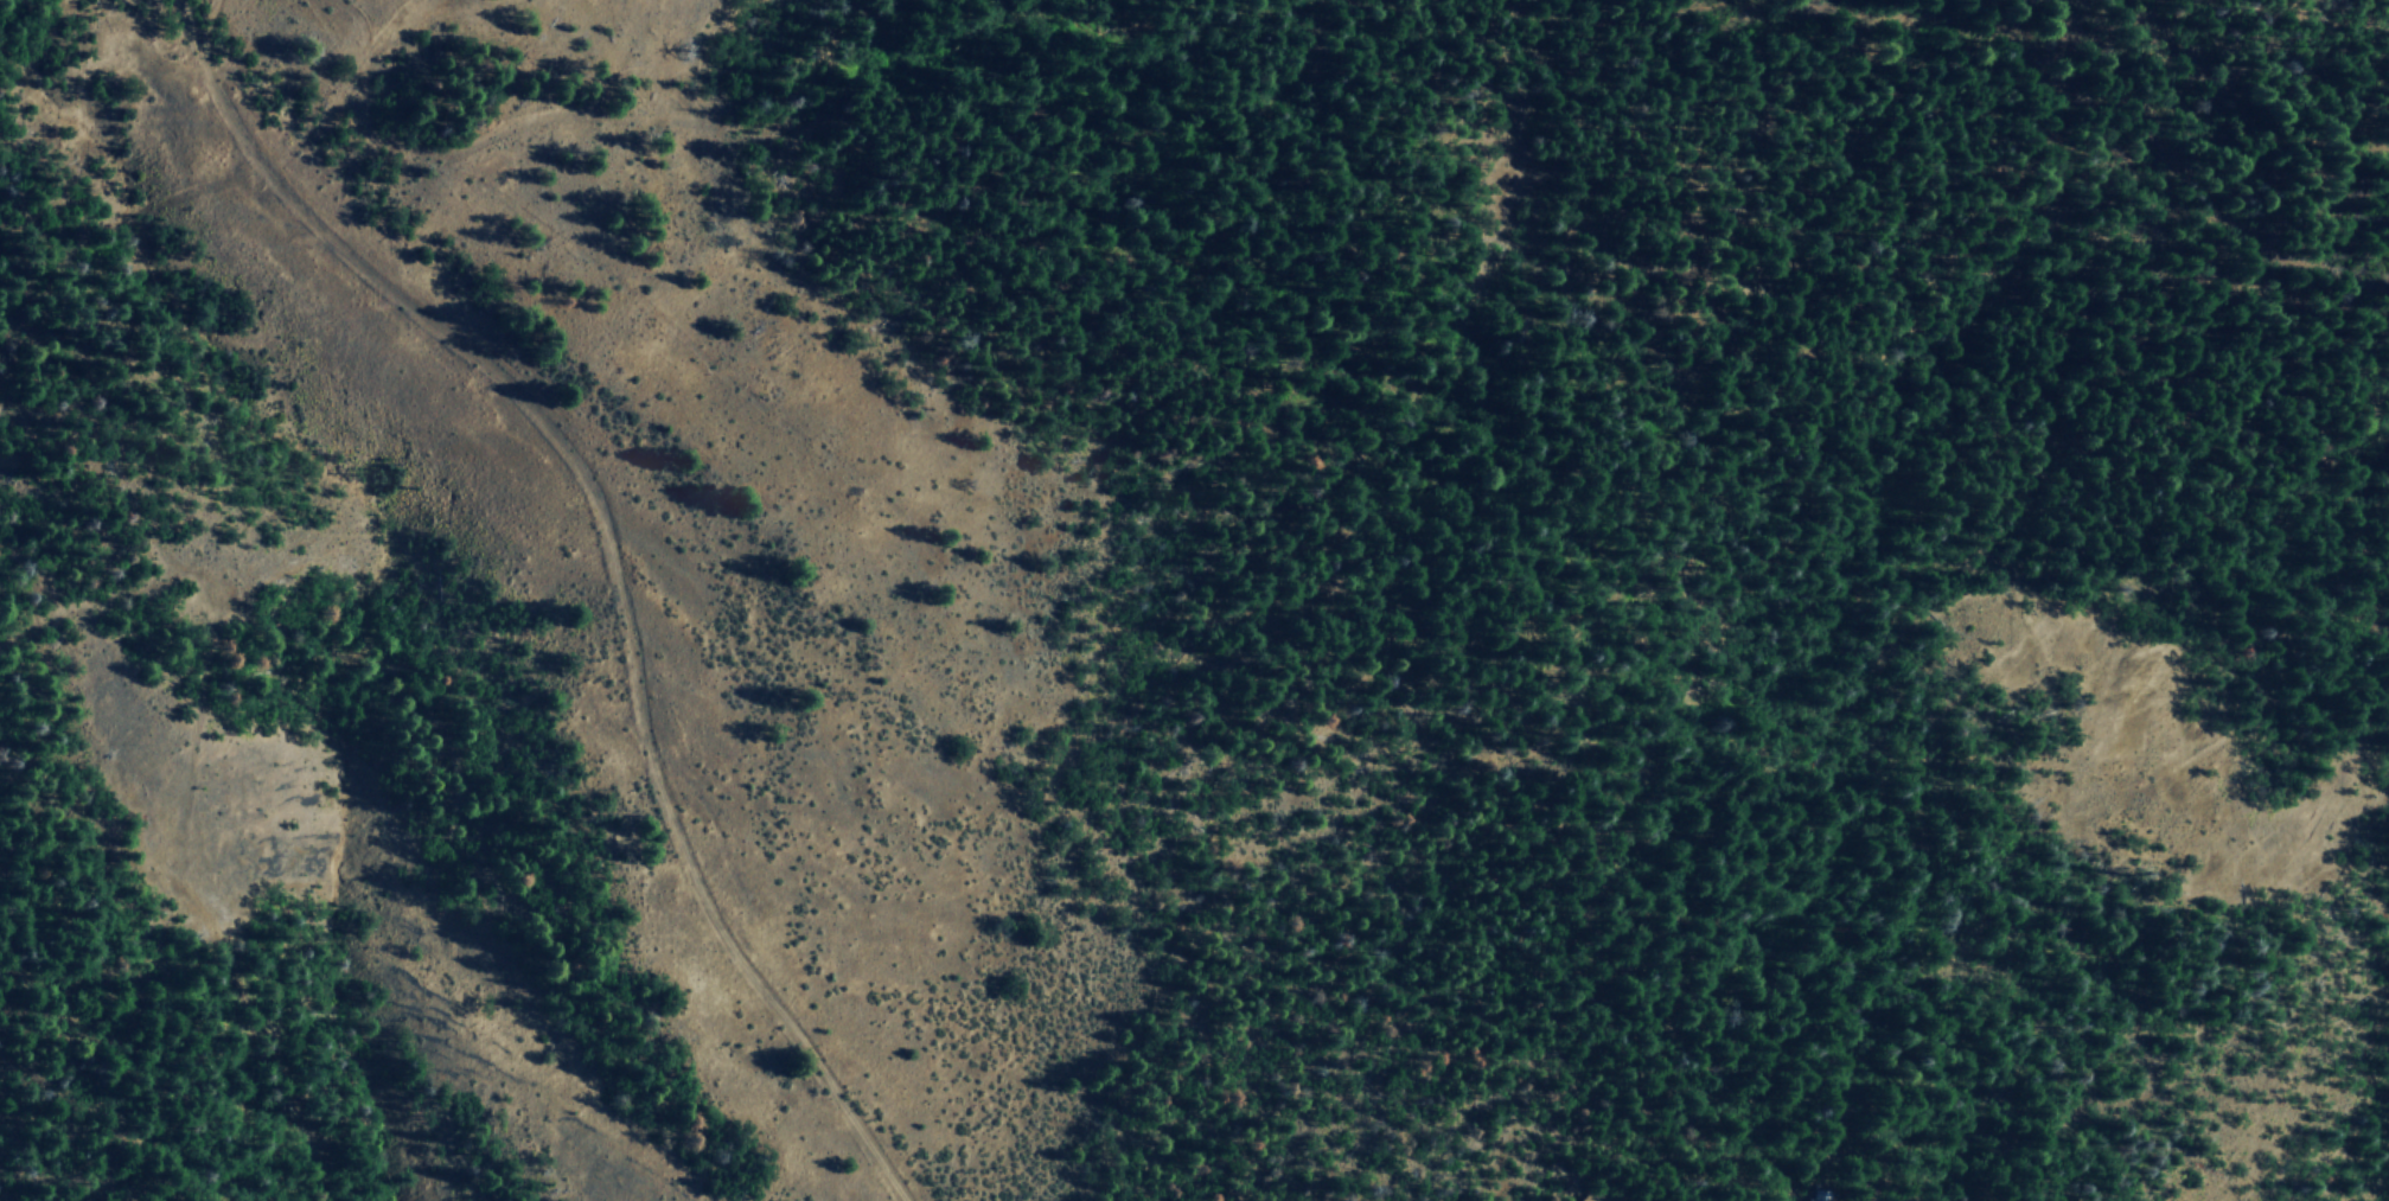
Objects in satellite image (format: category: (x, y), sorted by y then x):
building: (1586, 1197)

